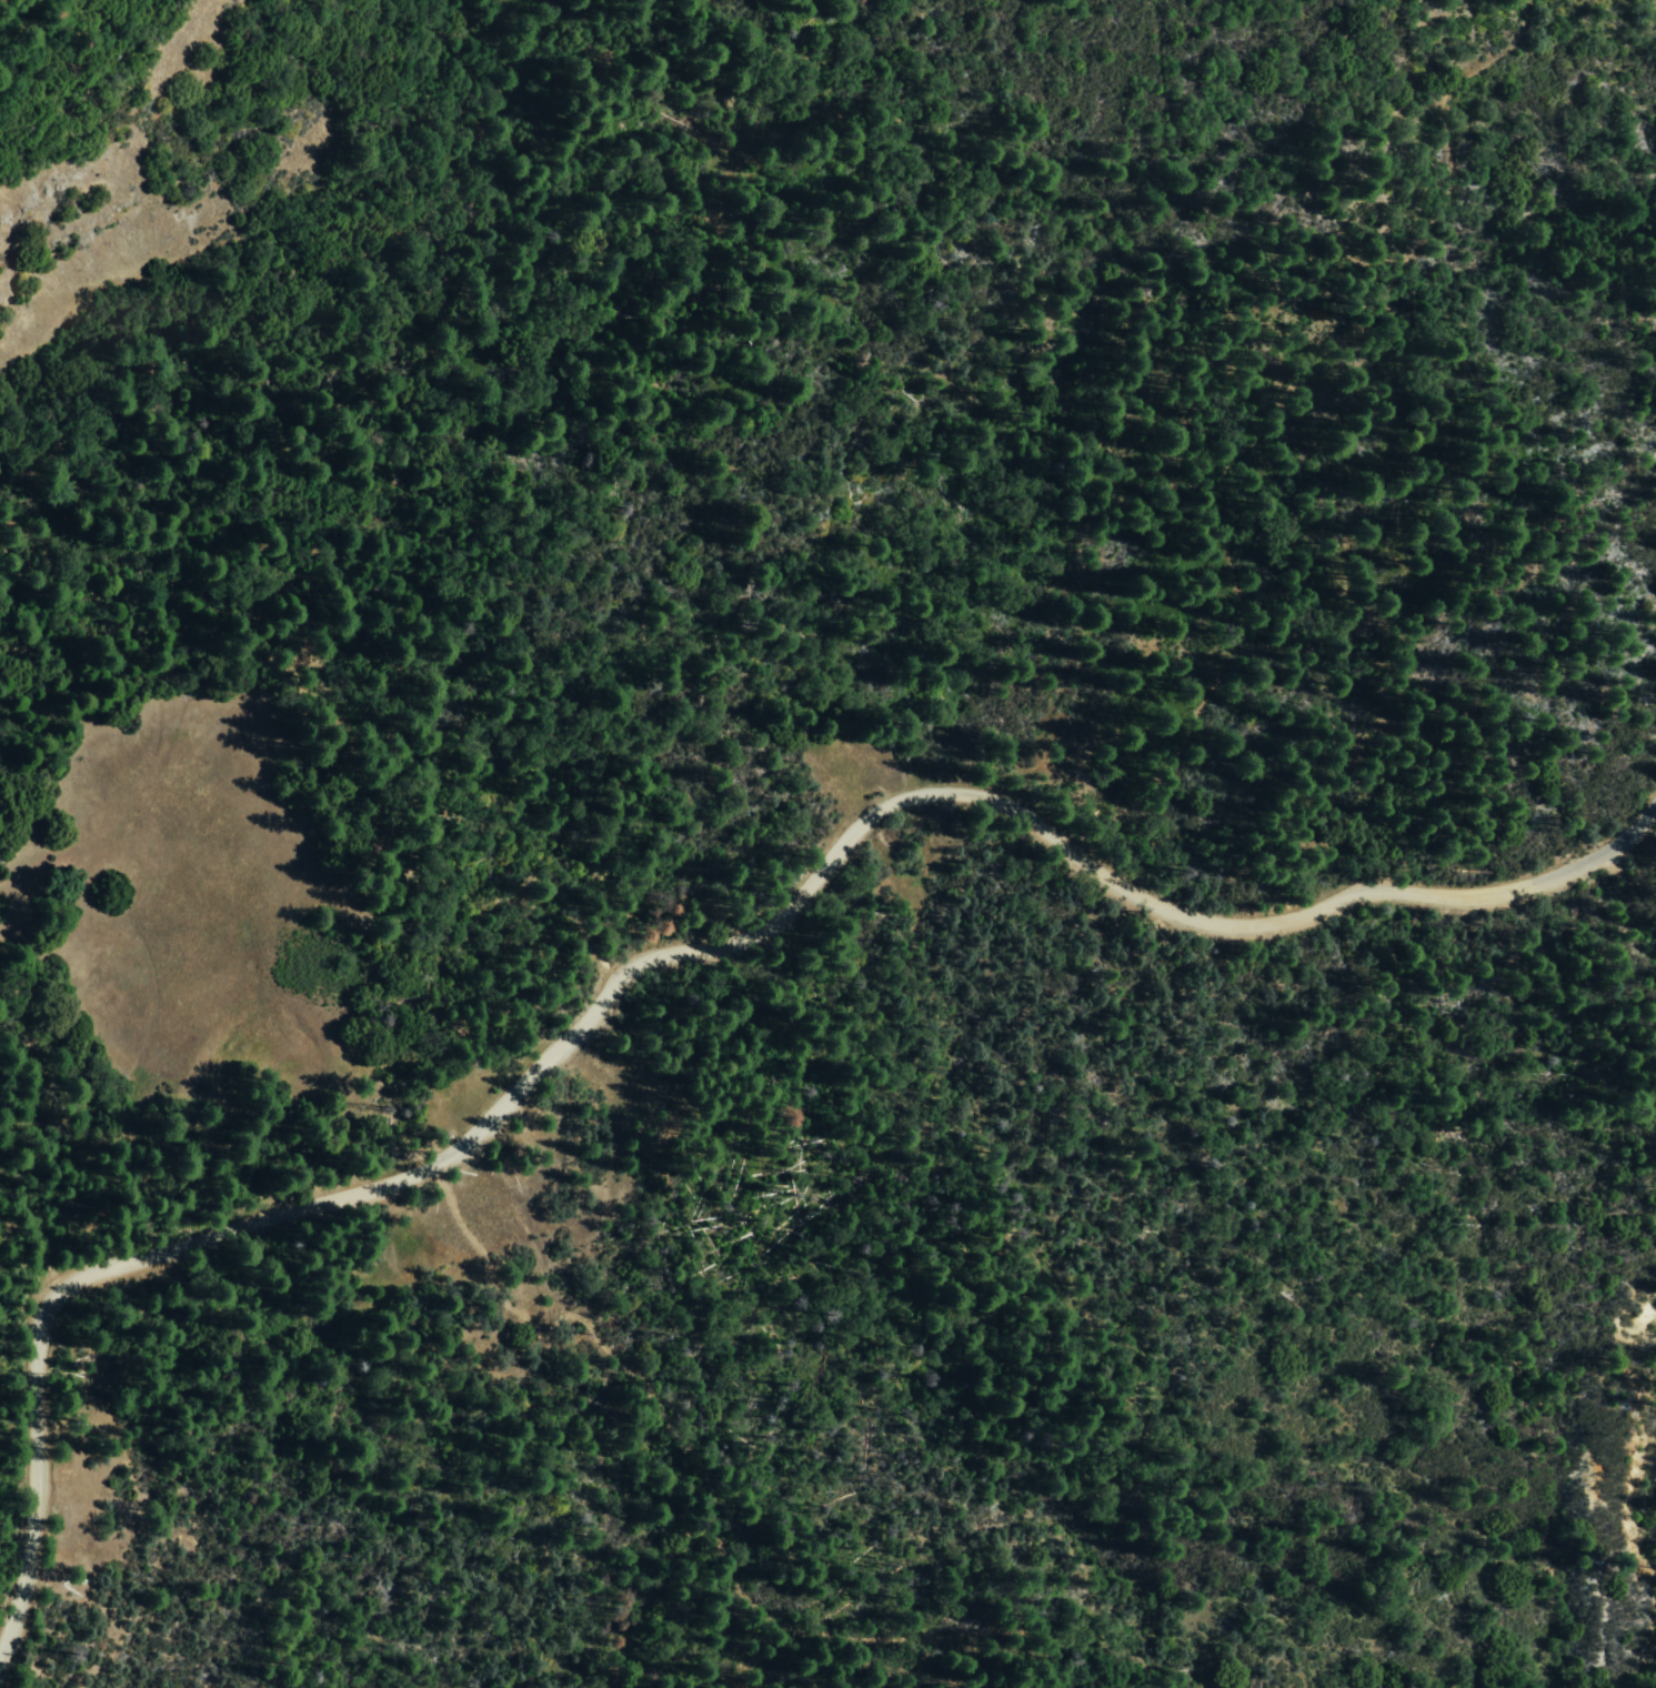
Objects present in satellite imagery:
road: (1277, 419)
park: (757, 508)
road: (1636, 823)
road: (659, 958)
park: (937, 1327)

